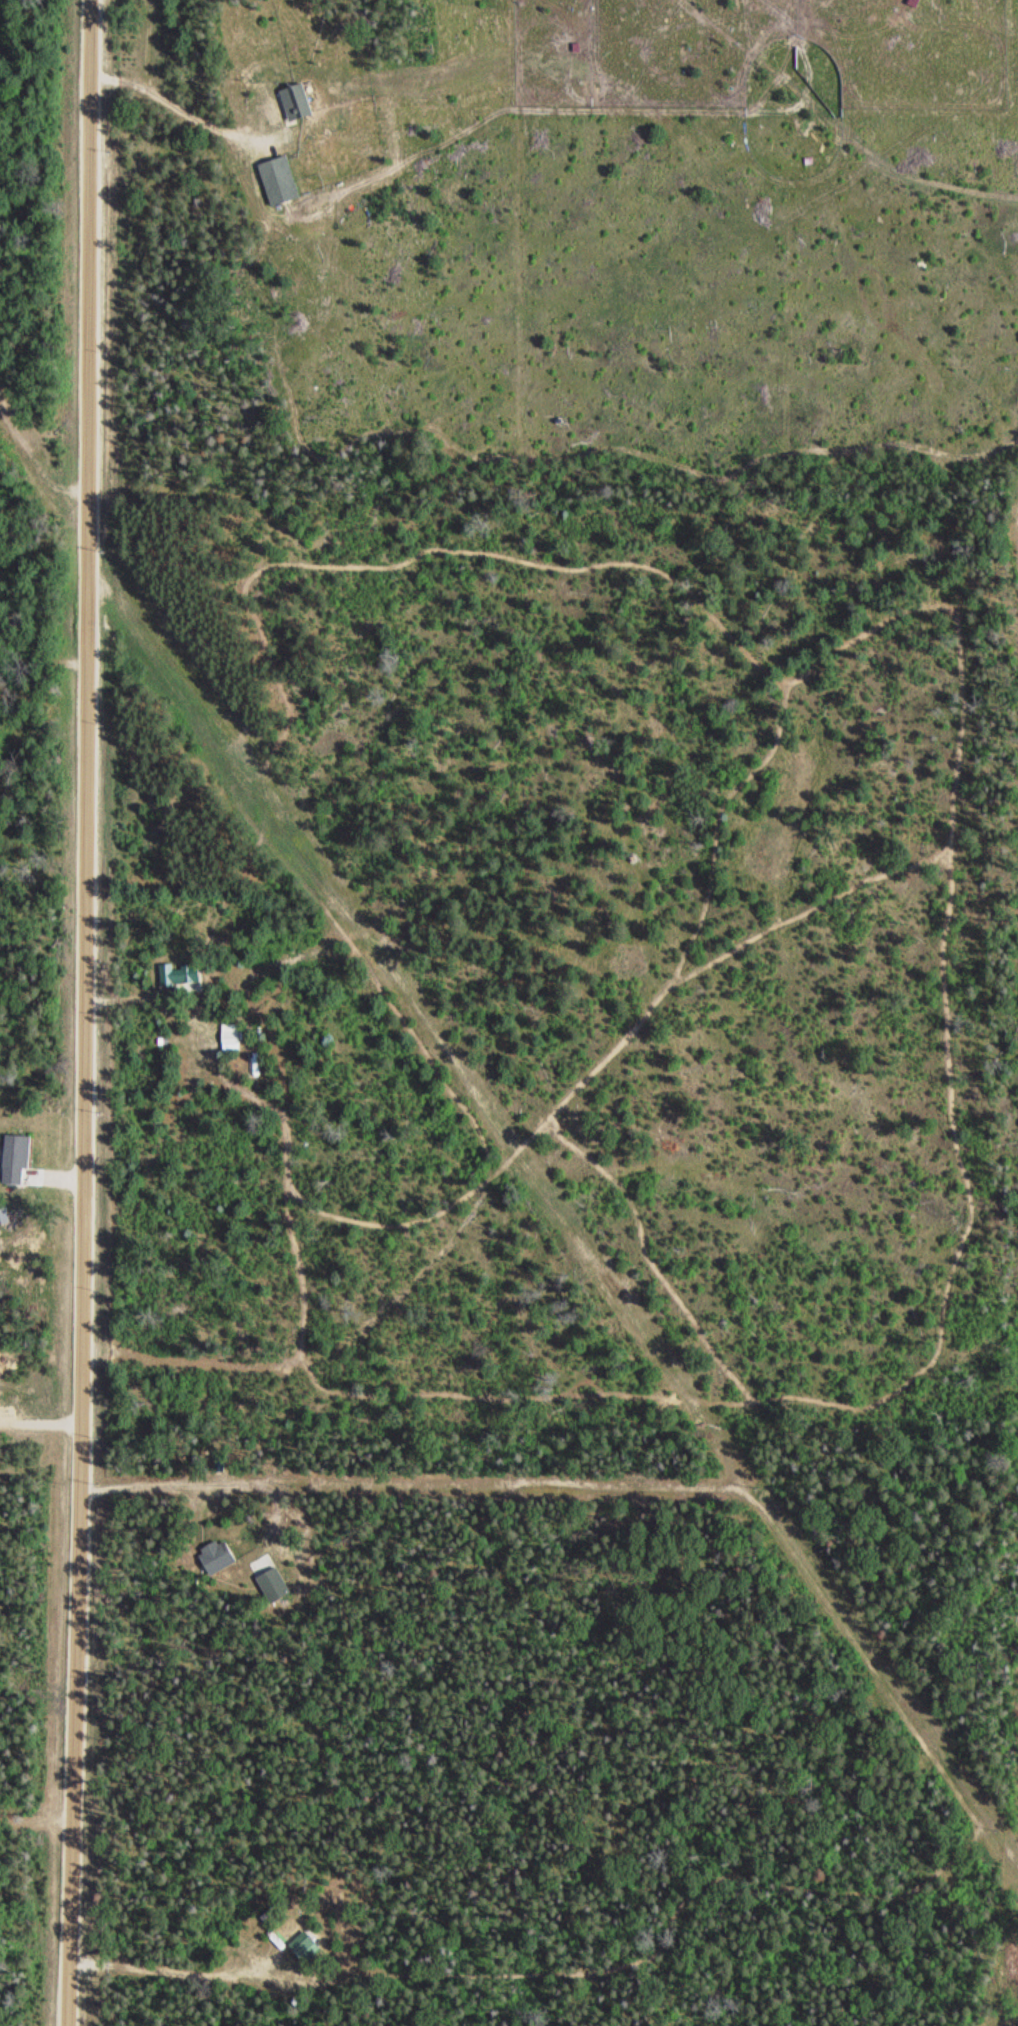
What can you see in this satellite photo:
building: (294, 101)
road: (840, 127)
building: (276, 180)
building: (175, 974)
road: (89, 1013)
building: (229, 1036)
building: (14, 1158)
road: (37, 1421)
building: (215, 1555)
road: (839, 1669)
building: (305, 1950)

